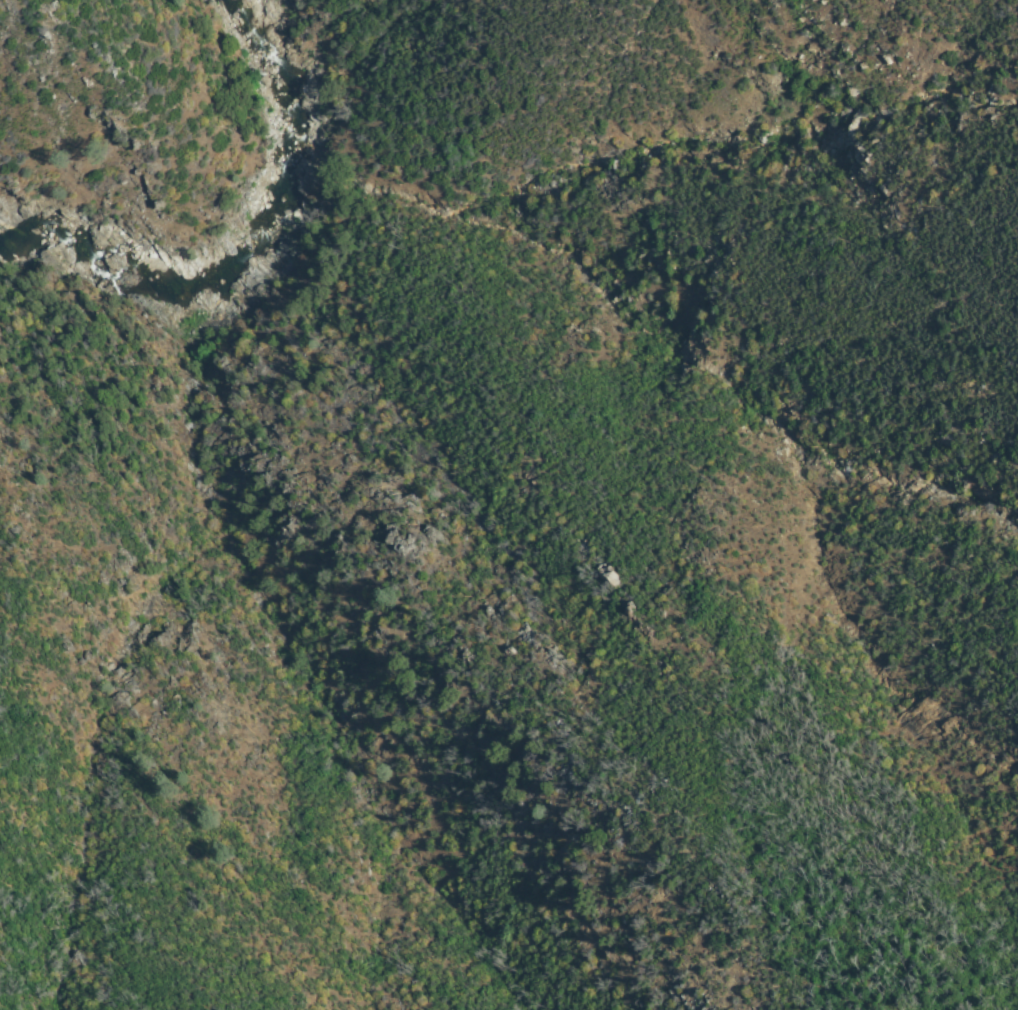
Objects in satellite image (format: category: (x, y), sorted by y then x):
river: (241, 239)

